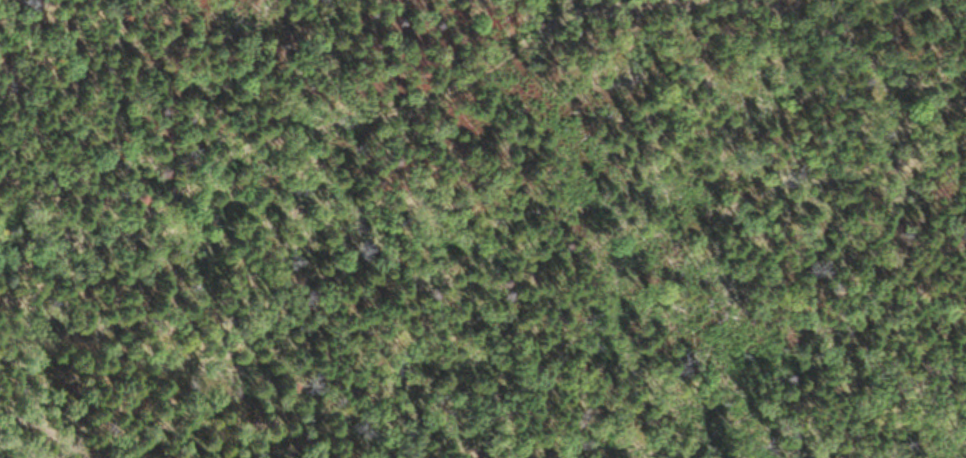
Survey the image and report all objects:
road: (312, 129)

